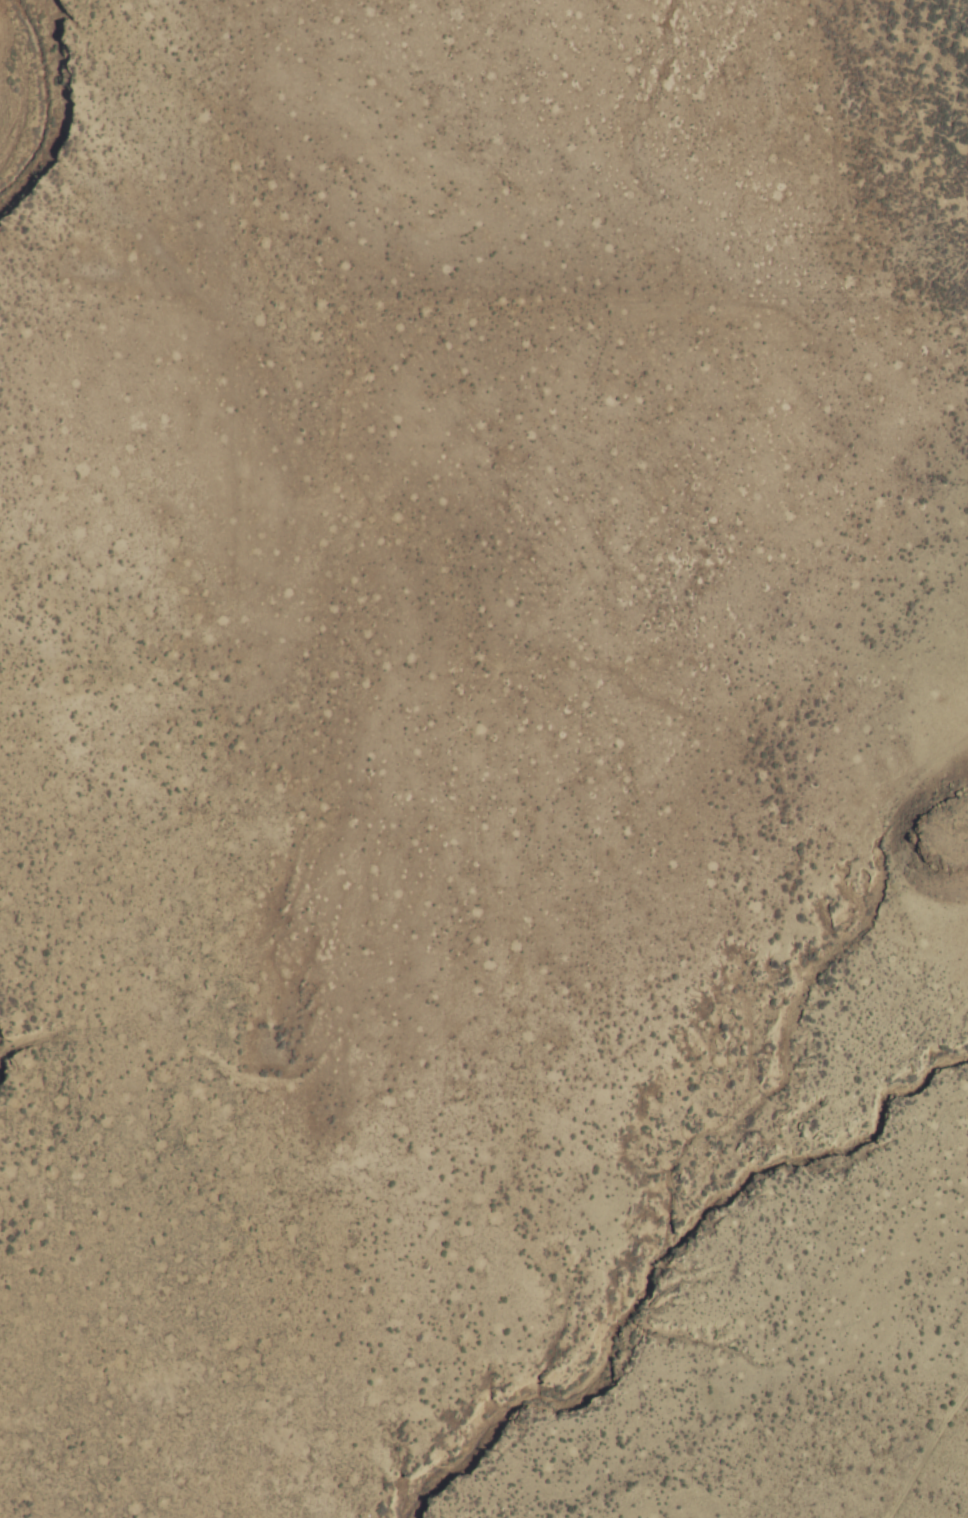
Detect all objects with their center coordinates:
river: (12, 62)
river: (648, 1235)
road: (927, 1454)

